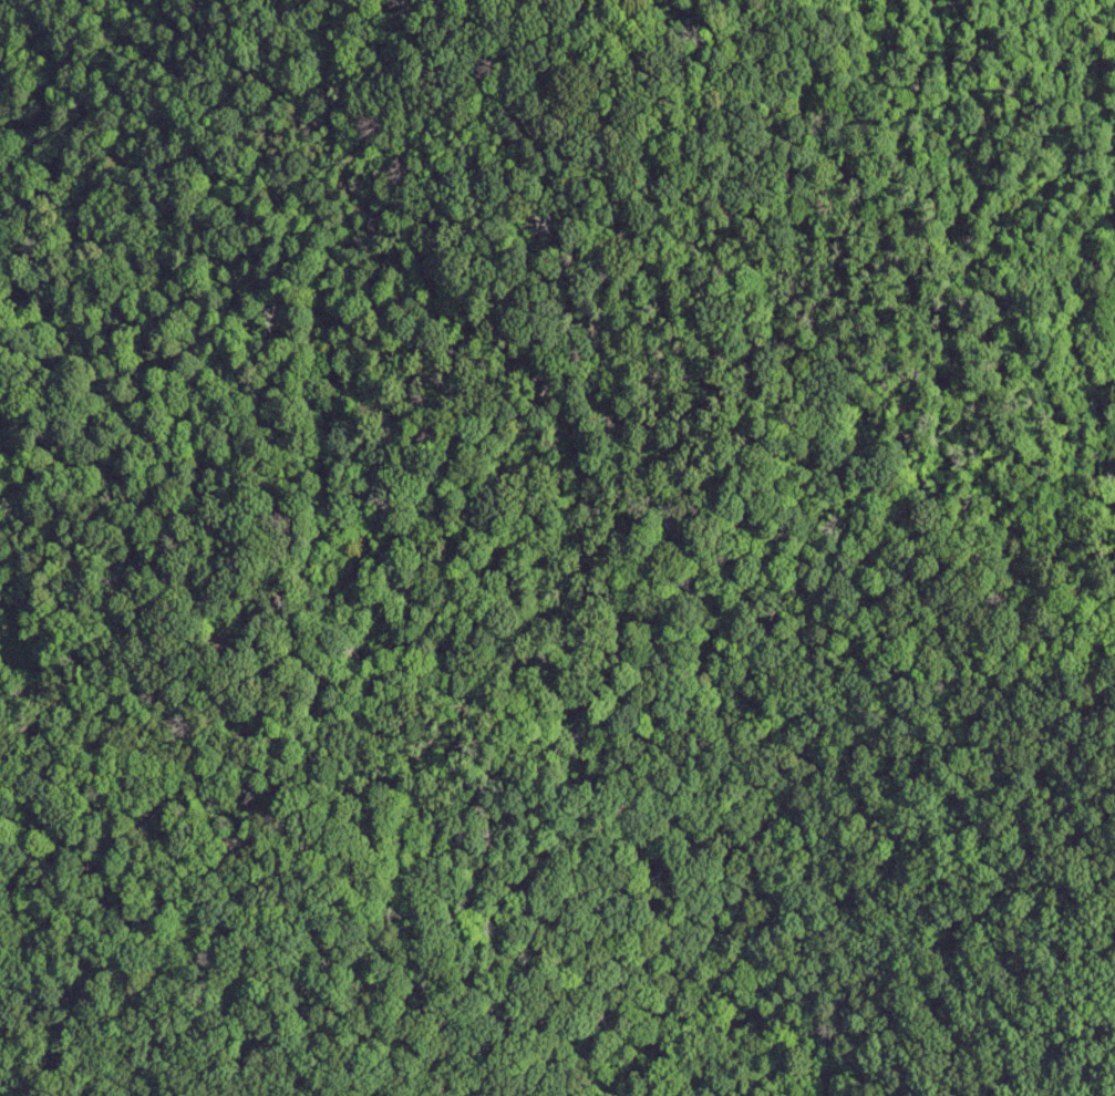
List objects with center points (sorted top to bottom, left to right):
road: (321, 351)

